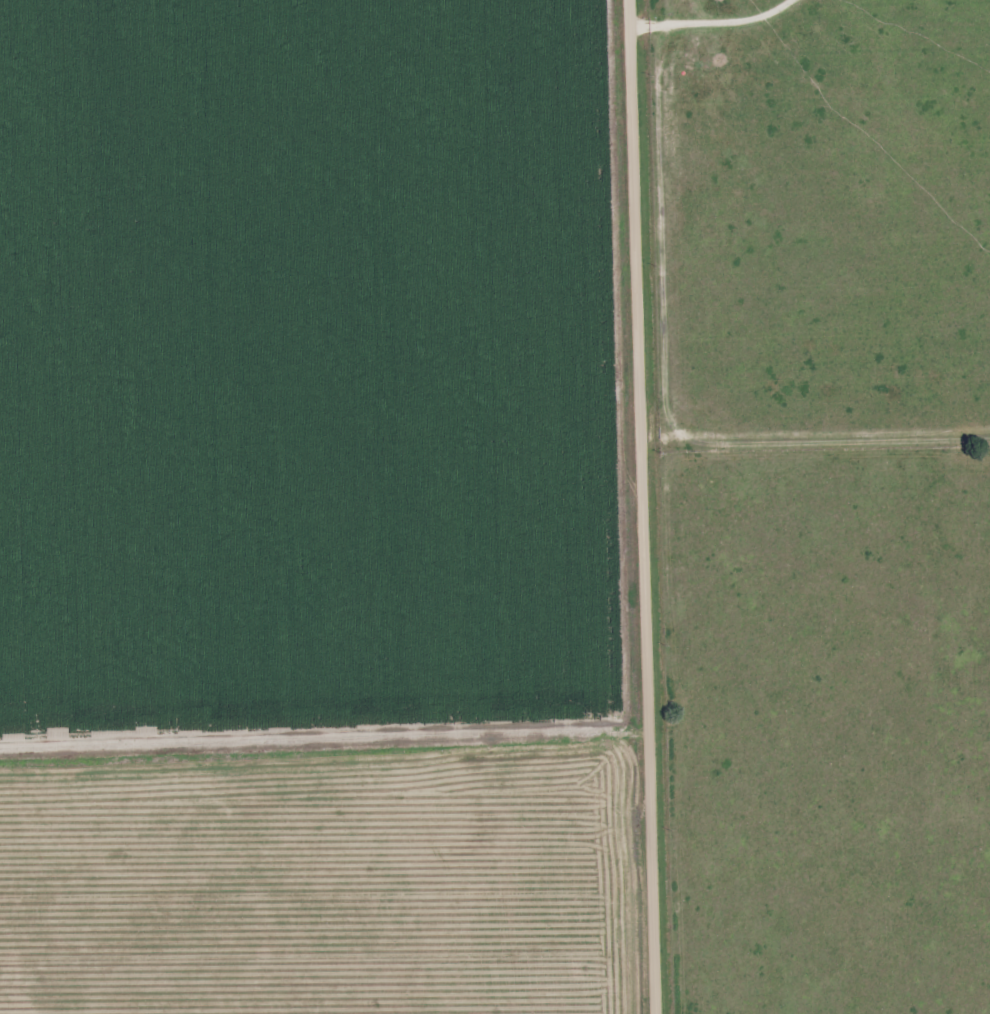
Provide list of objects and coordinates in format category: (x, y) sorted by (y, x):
road: (645, 507)

